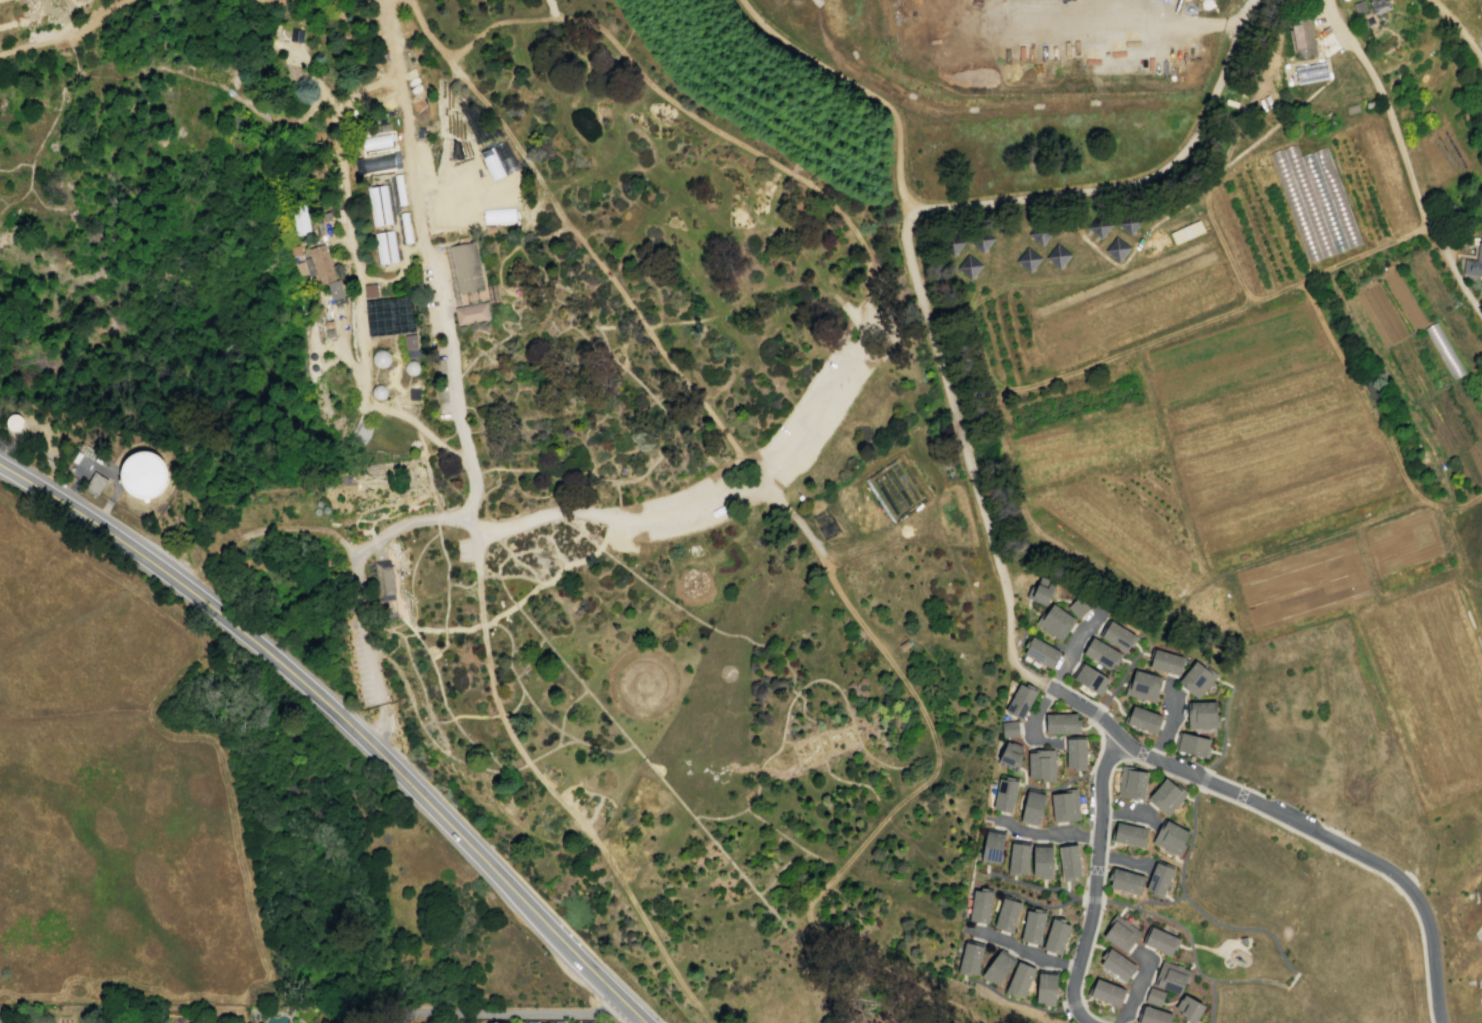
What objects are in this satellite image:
road: (282, 1)
road: (386, 2)
building: (1378, 5)
building: (1358, 7)
road: (551, 8)
building: (993, 12)
road: (65, 15)
road: (59, 16)
road: (69, 16)
road: (26, 17)
road: (100, 20)
building: (1365, 22)
road: (1129, 23)
road: (1459, 29)
building: (295, 36)
building: (1300, 38)
road: (33, 43)
road: (1335, 49)
building: (1310, 72)
road: (861, 89)
road: (1265, 90)
road: (1304, 100)
building: (1351, 110)
road: (690, 113)
road: (49, 125)
building: (375, 141)
road: (1236, 159)
road: (1403, 159)
building: (379, 163)
building: (399, 190)
building: (1315, 201)
building: (379, 205)
building: (498, 215)
building: (1450, 215)
building: (299, 217)
building: (1128, 222)
building: (1099, 225)
building: (1198, 226)
building: (405, 227)
building: (1192, 229)
building: (1186, 232)
building: (1039, 233)
building: (1180, 234)
building: (1174, 237)
road: (904, 239)
building: (981, 239)
road: (1050, 242)
road: (1221, 243)
building: (951, 244)
building: (385, 247)
building: (1116, 248)
building: (1057, 255)
building: (1027, 259)
building: (1473, 262)
building: (321, 264)
building: (465, 265)
building: (968, 267)
road: (30, 269)
road: (1074, 273)
building: (335, 290)
building: (371, 291)
parking lot: (442, 310)
building: (471, 313)
building: (389, 316)
building: (410, 342)
road: (361, 343)
building: (381, 360)
road: (1086, 366)
building: (411, 369)
building: (1479, 369)
crop: (1269, 375)
road: (612, 393)
building: (1373, 393)
building: (378, 394)
dam: (218, 411)
road: (458, 414)
water tower: (13, 422)
road: (1386, 441)
road: (423, 443)
parking lot: (791, 446)
road: (49, 450)
road: (749, 468)
building: (142, 474)
water tower: (143, 475)
road: (117, 479)
road: (744, 480)
building: (99, 483)
road: (1461, 502)
road: (277, 528)
crop: (1406, 540)
road: (478, 545)
parking lot: (463, 549)
road: (417, 555)
road: (519, 562)
road: (1205, 566)
road: (507, 575)
building: (384, 580)
road: (464, 586)
building: (1041, 590)
road: (414, 606)
road: (512, 606)
building: (1077, 607)
road: (444, 615)
building: (1054, 622)
road: (704, 624)
road: (534, 627)
building: (1118, 636)
road: (203, 640)
road: (1137, 647)
building: (1041, 652)
building: (1101, 653)
road: (1145, 653)
road: (1016, 655)
parking lot: (369, 657)
road: (530, 658)
building: (1166, 662)
building: (1088, 678)
building: (1196, 678)
road: (418, 679)
road: (1120, 680)
road: (1223, 682)
building: (1142, 685)
road: (1050, 688)
road: (1080, 694)
road: (841, 695)
road: (1114, 700)
building: (1019, 701)
road: (518, 702)
road: (1088, 709)
road: (336, 712)
road: (1095, 713)
road: (562, 714)
building: (1201, 714)
building: (1143, 719)
road: (453, 720)
road: (545, 720)
building: (1061, 723)
road: (1167, 727)
road: (840, 729)
building: (1009, 729)
road: (1223, 730)
road: (803, 739)
road: (843, 739)
road: (1100, 744)
building: (1191, 744)
road: (846, 748)
road: (1114, 748)
road: (810, 751)
building: (1075, 753)
building: (1010, 756)
building: (1041, 764)
road: (476, 765)
road: (1205, 769)
road: (1023, 775)
road: (1194, 776)
road: (835, 777)
road: (1204, 779)
building: (1130, 782)
road: (1234, 784)
road: (1044, 785)
road: (1108, 786)
road: (1054, 787)
building: (1004, 794)
building: (1166, 796)
building: (1064, 805)
building: (1031, 808)
road: (568, 809)
parking lot: (1294, 809)
road: (1130, 812)
road: (1335, 832)
road: (1039, 834)
building: (1128, 834)
road: (784, 837)
building: (1170, 837)
building: (991, 847)
building: (1017, 858)
road: (1121, 859)
building: (1041, 861)
building: (1068, 862)
road: (739, 872)
building: (1158, 878)
building: (1124, 880)
road: (1031, 885)
road: (1092, 899)
road: (1027, 900)
road: (1158, 902)
building: (980, 905)
road: (1413, 911)
building: (1006, 914)
building: (1032, 925)
building: (1120, 933)
building: (1055, 936)
building: (1159, 940)
building: (1242, 940)
road: (591, 949)
road: (1214, 949)
road: (1023, 950)
building: (969, 959)
building: (1116, 964)
road: (1290, 967)
building: (997, 968)
building: (1171, 977)
building: (1018, 980)
road: (927, 984)
building: (1045, 987)
road: (1136, 987)
building: (1105, 992)
building: (1153, 996)
road: (595, 998)
road: (1011, 999)
road: (1212, 1001)
road: (1172, 1002)
road: (1073, 1003)
road: (930, 1005)
road: (224, 1008)
road: (607, 1008)
building: (1188, 1009)
road: (523, 1012)
road: (977, 1012)
road: (405, 1015)
building: (1152, 1015)
road: (637, 1017)
road: (619, 1020)
road: (396, 1022)
building: (490, 1022)
building: (531, 1022)
building: (559, 1022)
road: (1185, 1022)

